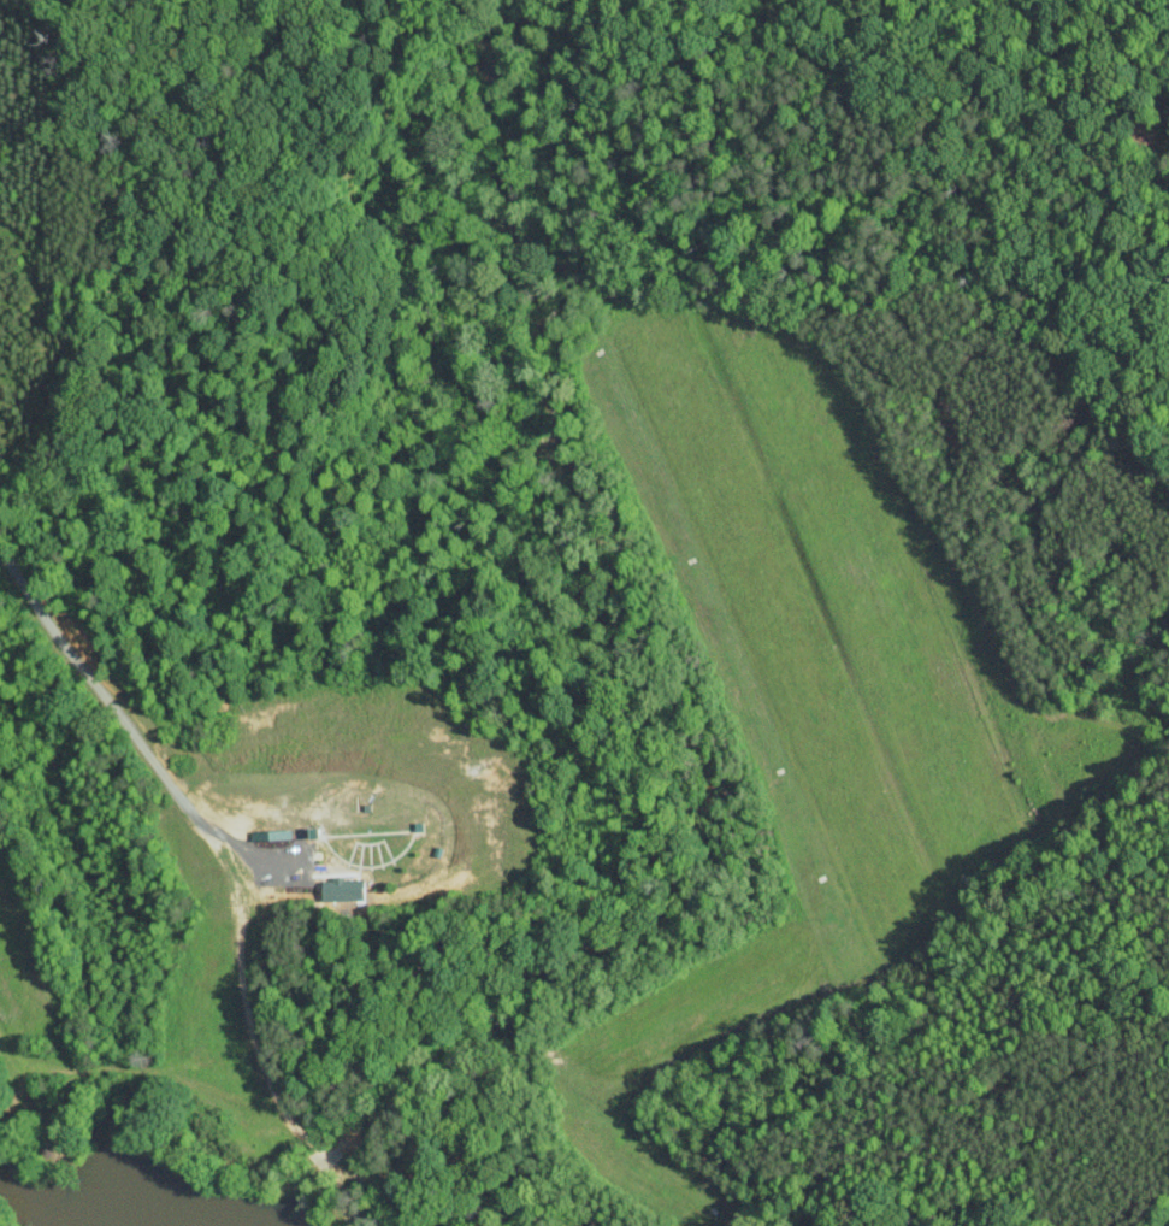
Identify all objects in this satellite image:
road: (122, 715)

